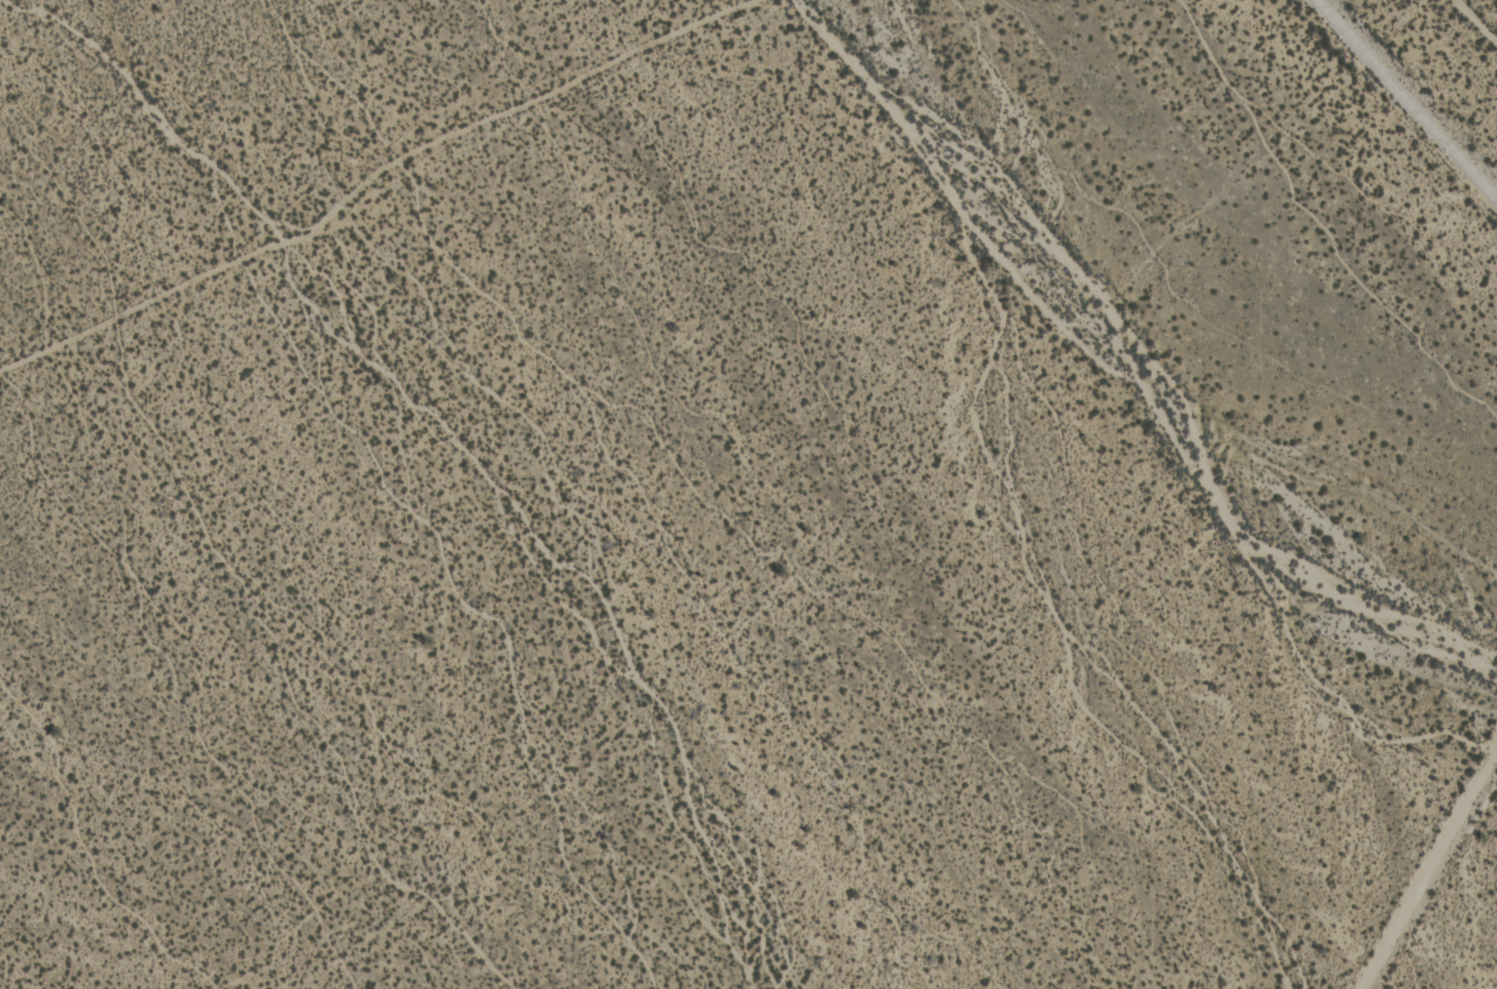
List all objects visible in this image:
road: (1408, 99)
road: (1432, 870)

